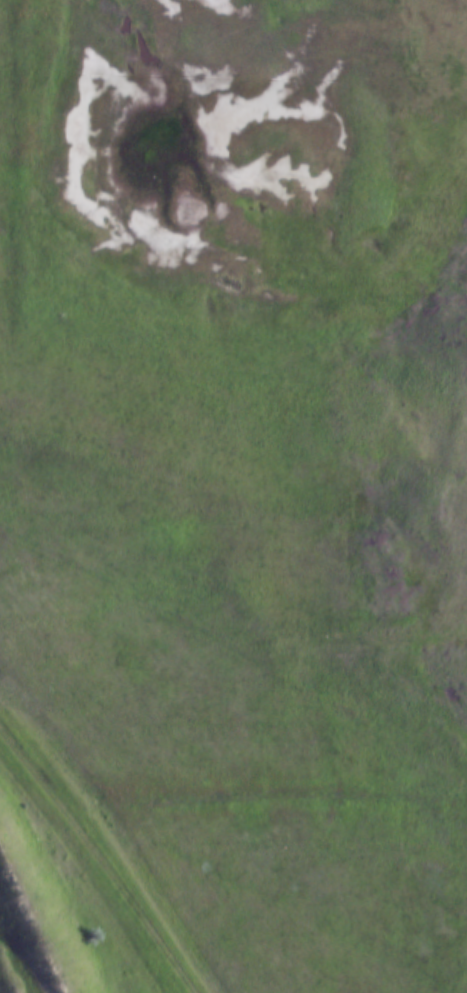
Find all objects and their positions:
road: (100, 855)
quarry: (79, 878)

